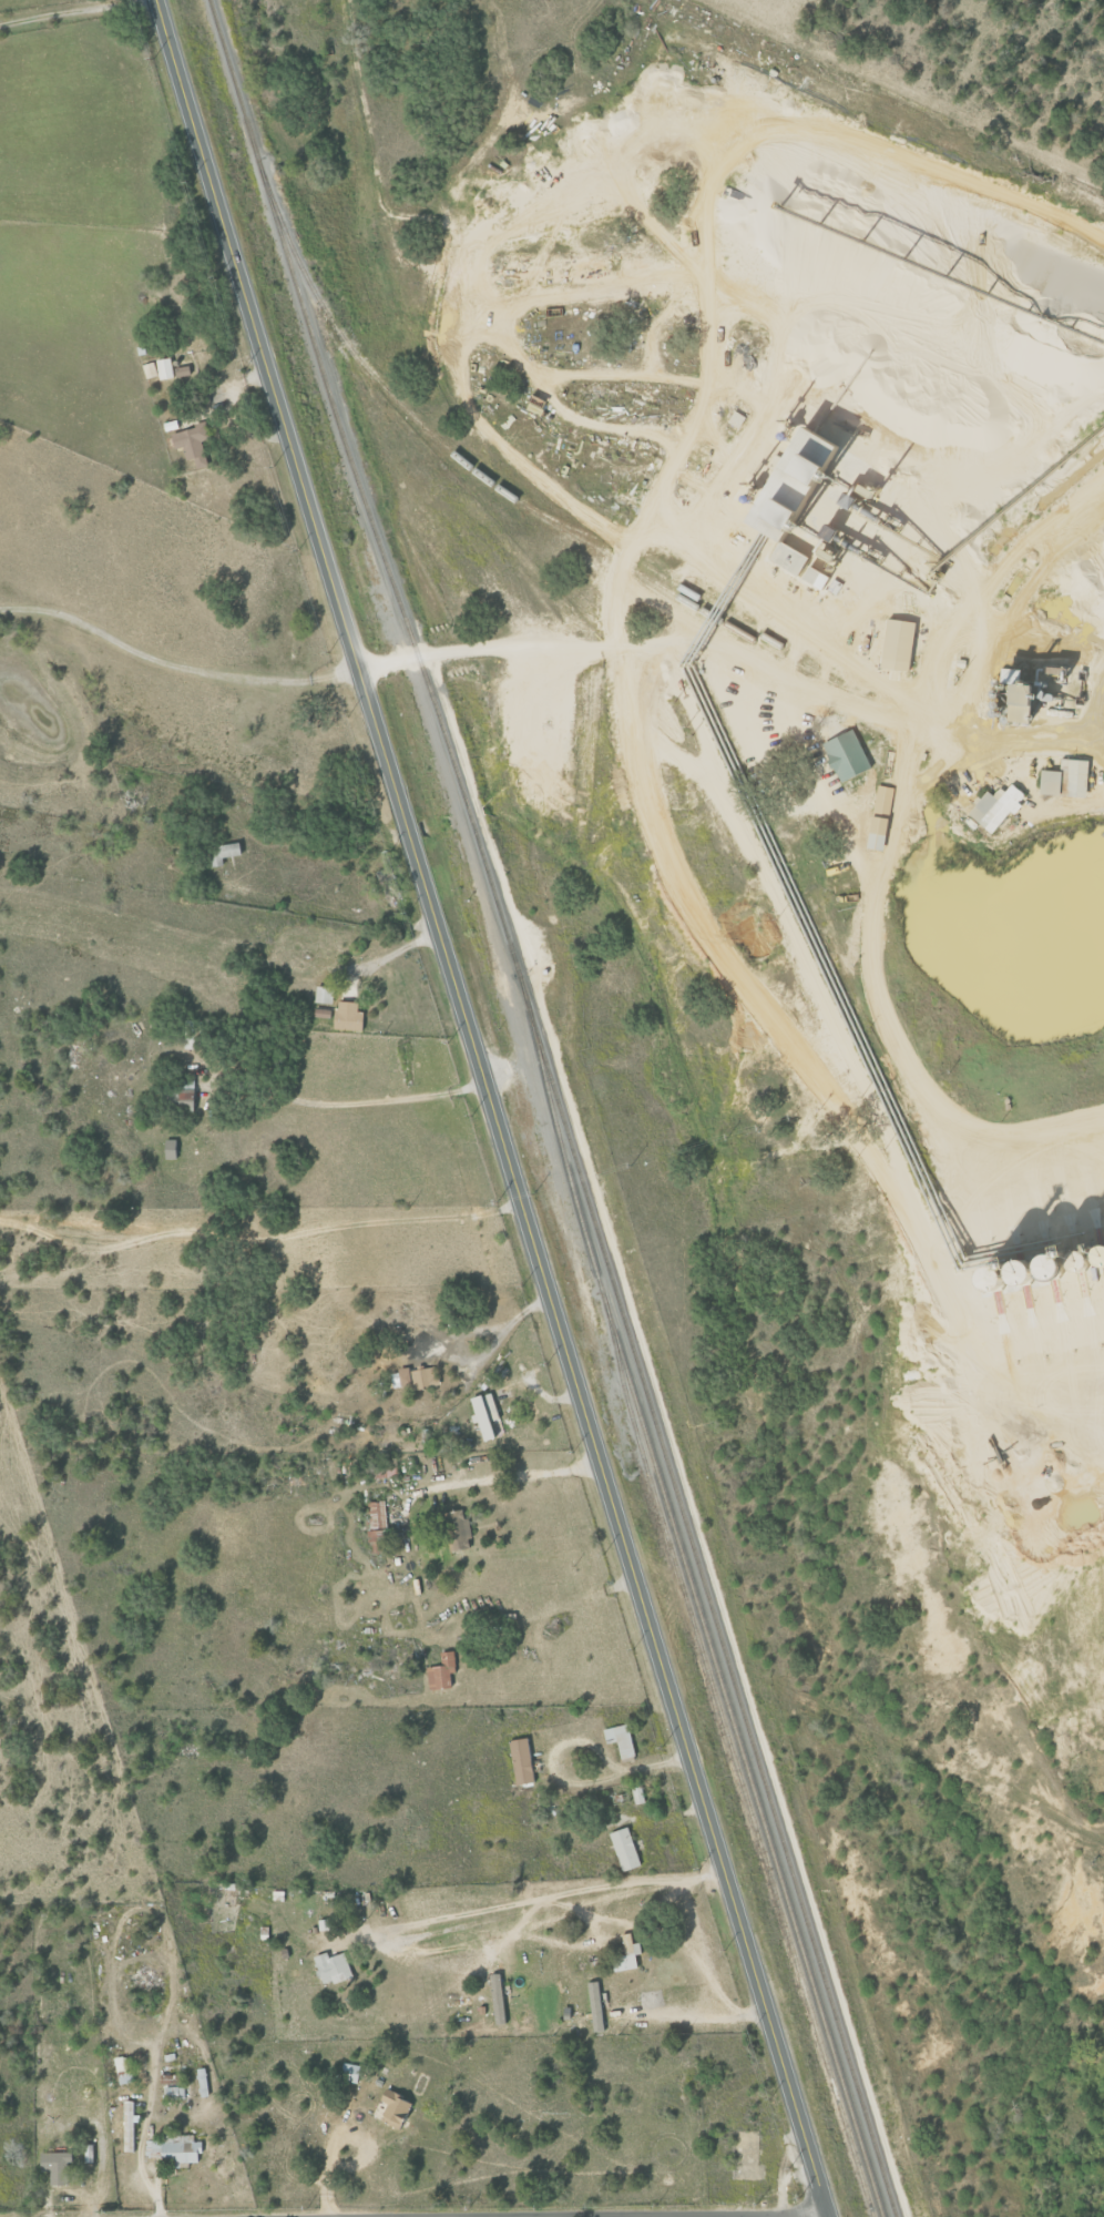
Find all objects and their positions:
road: (47, 11)
building: (163, 368)
building: (149, 369)
railway: (333, 404)
building: (191, 443)
building: (780, 474)
railway: (612, 556)
railway: (712, 606)
road: (601, 642)
building: (895, 644)
road: (449, 645)
road: (175, 660)
building: (1009, 701)
building: (844, 755)
building: (1062, 779)
building: (881, 802)
building: (993, 807)
building: (873, 833)
building: (221, 853)
quarry: (805, 914)
road: (391, 955)
building: (321, 995)
building: (320, 1014)
building: (346, 1016)
building: (185, 1081)
road: (384, 1094)
building: (183, 1099)
road: (493, 1108)
building: (168, 1149)
road: (1024, 1150)
road: (471, 1355)
building: (415, 1377)
building: (484, 1417)
road: (502, 1474)
railway: (658, 1513)
building: (375, 1523)
building: (456, 1529)
railway: (682, 1558)
building: (440, 1672)
building: (619, 1739)
building: (520, 1760)
road: (570, 1782)
building: (623, 1849)
road: (552, 1894)
building: (321, 1924)
road: (696, 1953)
building: (624, 1954)
building: (330, 1967)
building: (494, 1997)
building: (594, 2005)
road: (701, 2020)
building: (123, 2069)
building: (348, 2072)
building: (390, 2108)
building: (127, 2126)
road: (361, 2144)
building: (171, 2150)
building: (88, 2153)
building: (54, 2167)
road: (324, 2188)

